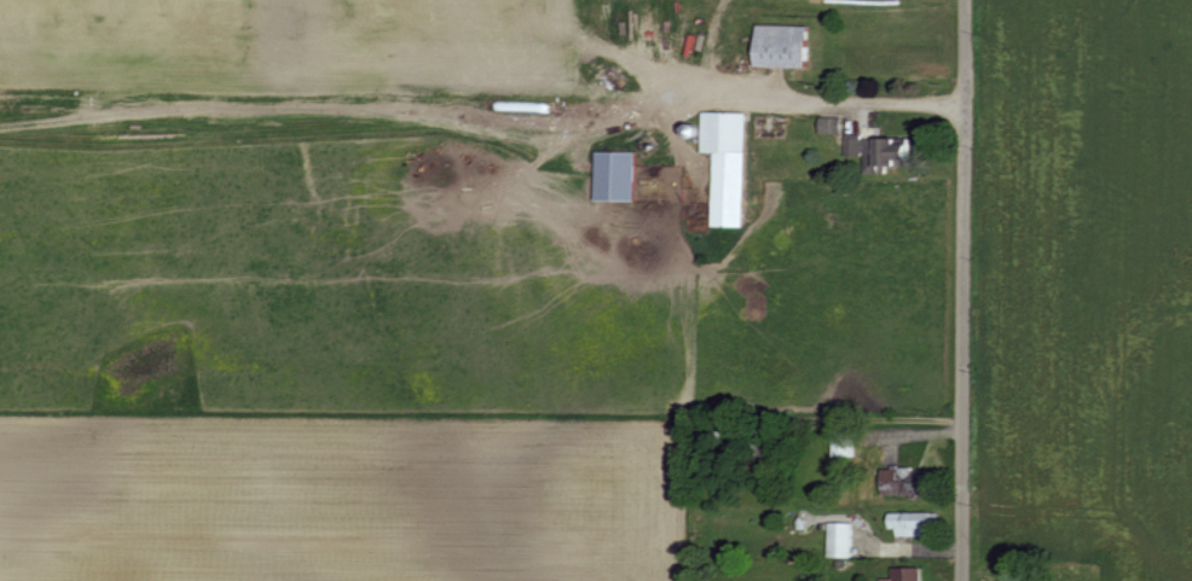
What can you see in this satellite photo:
building: (789, 45)
road: (910, 70)
building: (837, 124)
building: (884, 150)
building: (730, 162)
building: (620, 175)
road: (965, 290)
road: (870, 416)
building: (847, 442)
building: (910, 483)
building: (919, 523)
building: (845, 539)
building: (909, 574)

